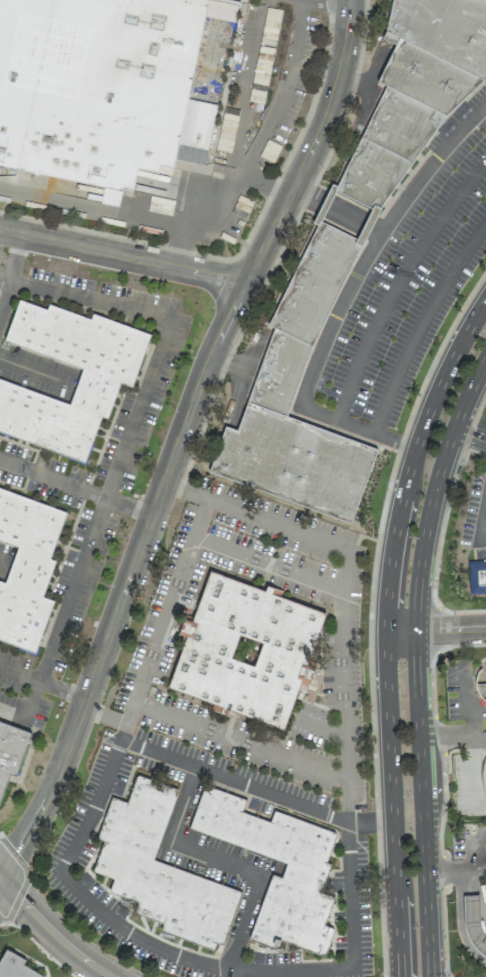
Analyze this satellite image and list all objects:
road: (251, 76)
building: (108, 86)
parking lot: (256, 109)
road: (480, 118)
road: (257, 144)
road: (266, 184)
road: (94, 207)
road: (378, 234)
road: (124, 256)
building: (351, 257)
road: (10, 273)
road: (397, 282)
road: (420, 322)
road: (32, 371)
building: (109, 380)
road: (350, 424)
road: (470, 436)
road: (183, 440)
road: (121, 448)
road: (77, 488)
road: (448, 500)
parking lot: (475, 520)
road: (481, 524)
road: (249, 557)
building: (26, 574)
building: (477, 576)
road: (369, 613)
road: (435, 631)
road: (385, 632)
building: (246, 651)
road: (416, 664)
road: (45, 678)
building: (481, 682)
road: (468, 695)
road: (157, 711)
road: (469, 716)
road: (117, 721)
road: (342, 725)
road: (322, 727)
road: (452, 736)
building: (11, 751)
road: (224, 779)
road: (369, 822)
road: (224, 864)
building: (160, 867)
building: (306, 870)
road: (460, 874)
road: (2, 877)
traffic signals: (5, 880)
road: (2, 884)
road: (81, 894)
building: (473, 925)
road: (56, 932)
building: (14, 966)
road: (109, 975)

